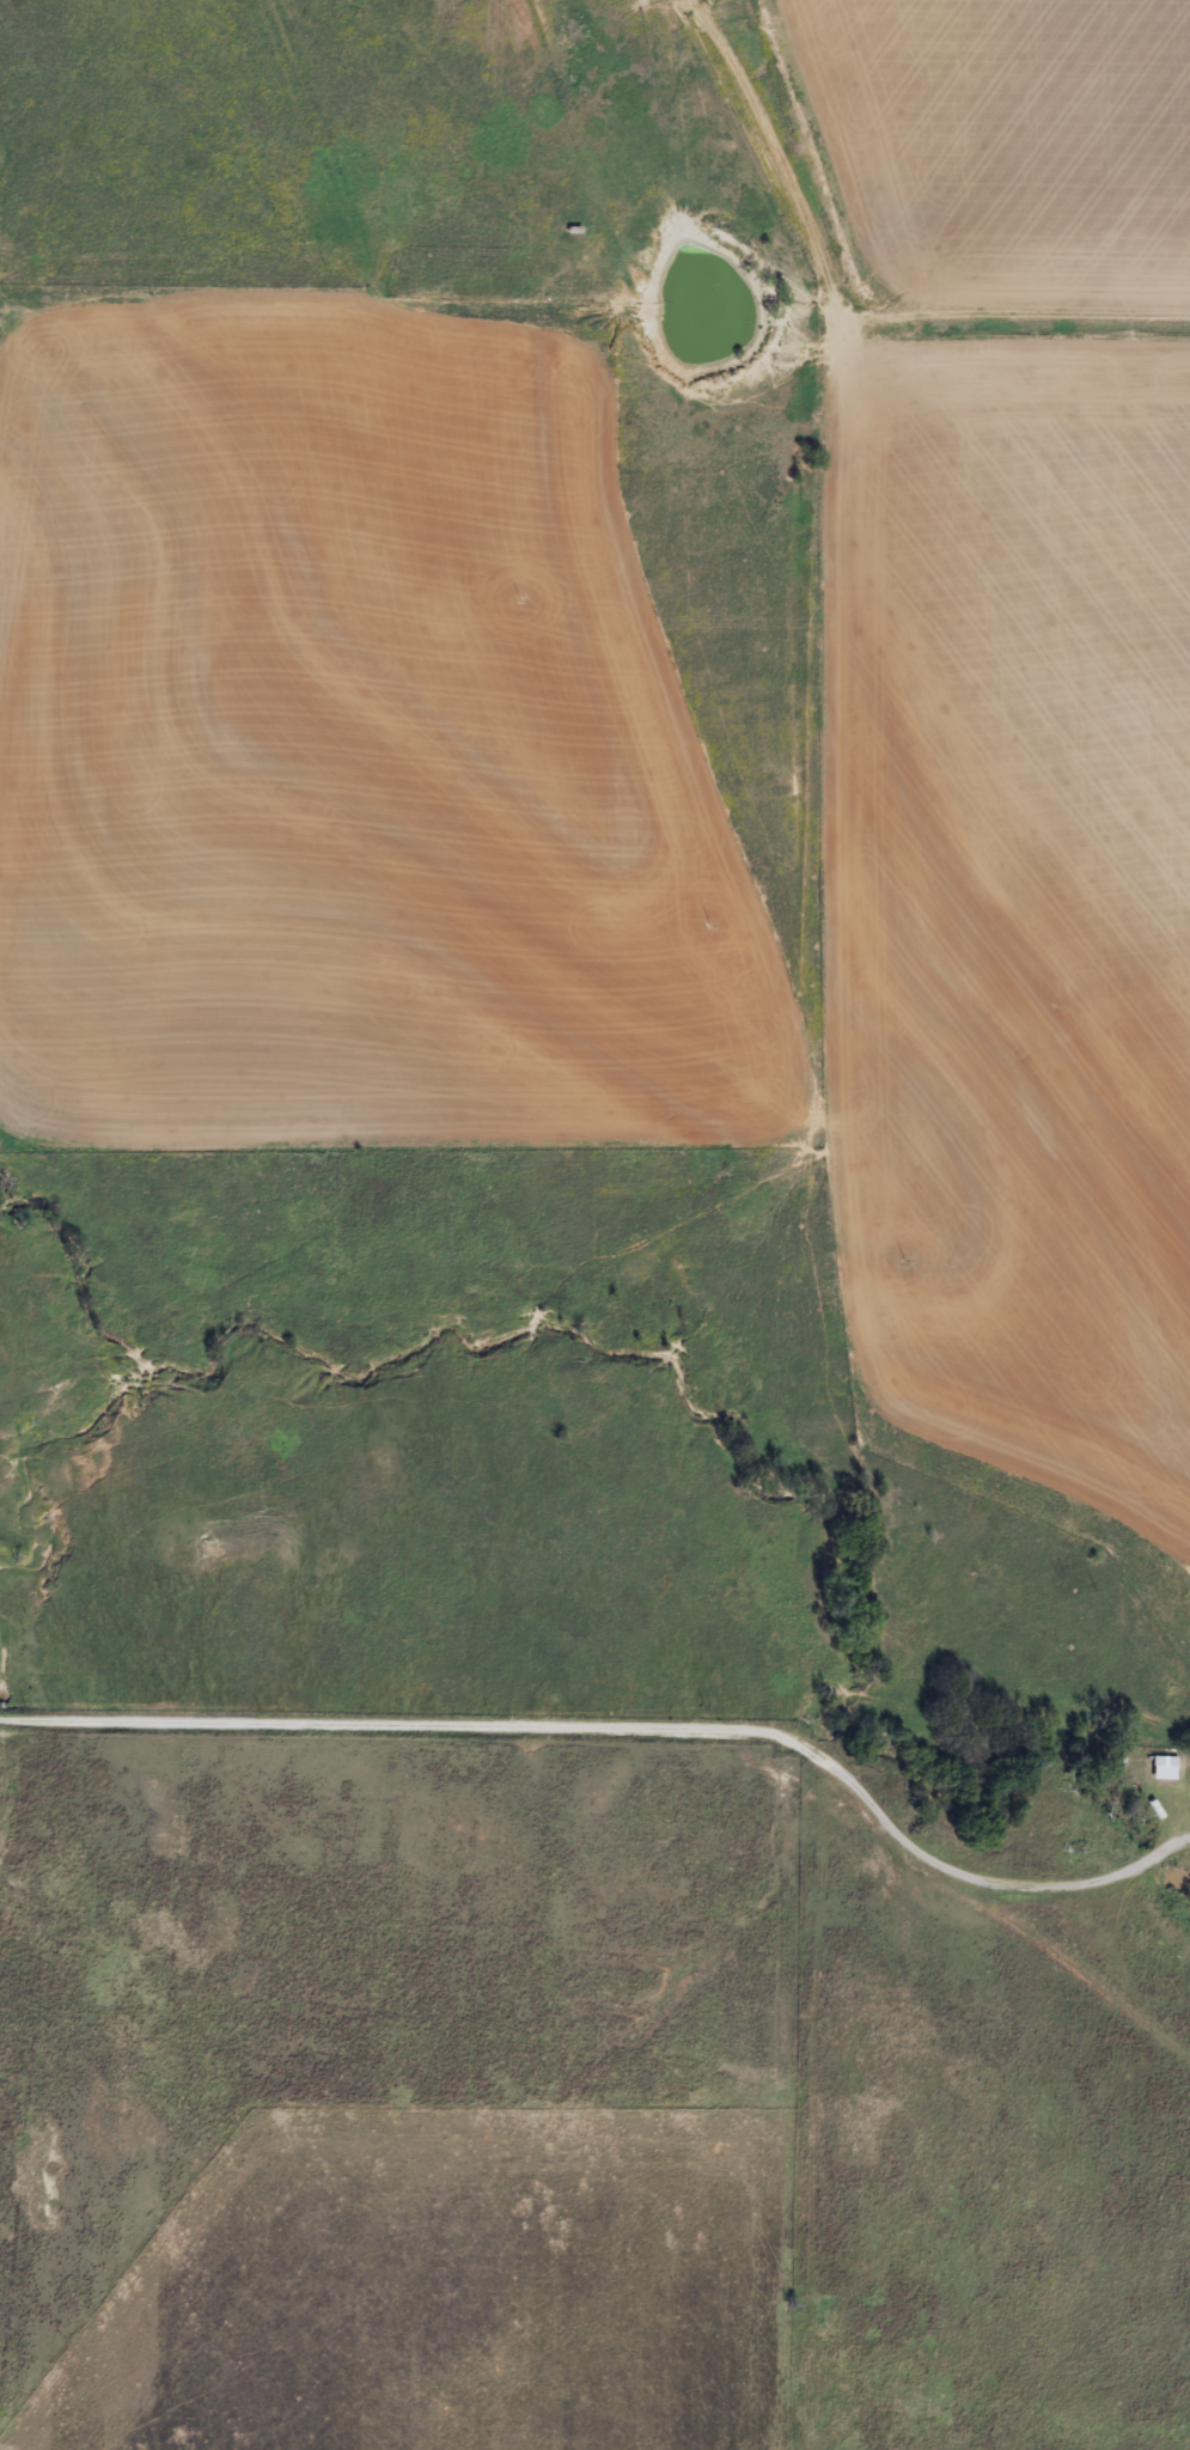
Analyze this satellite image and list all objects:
road: (848, 295)
road: (401, 1720)
building: (1162, 1768)

